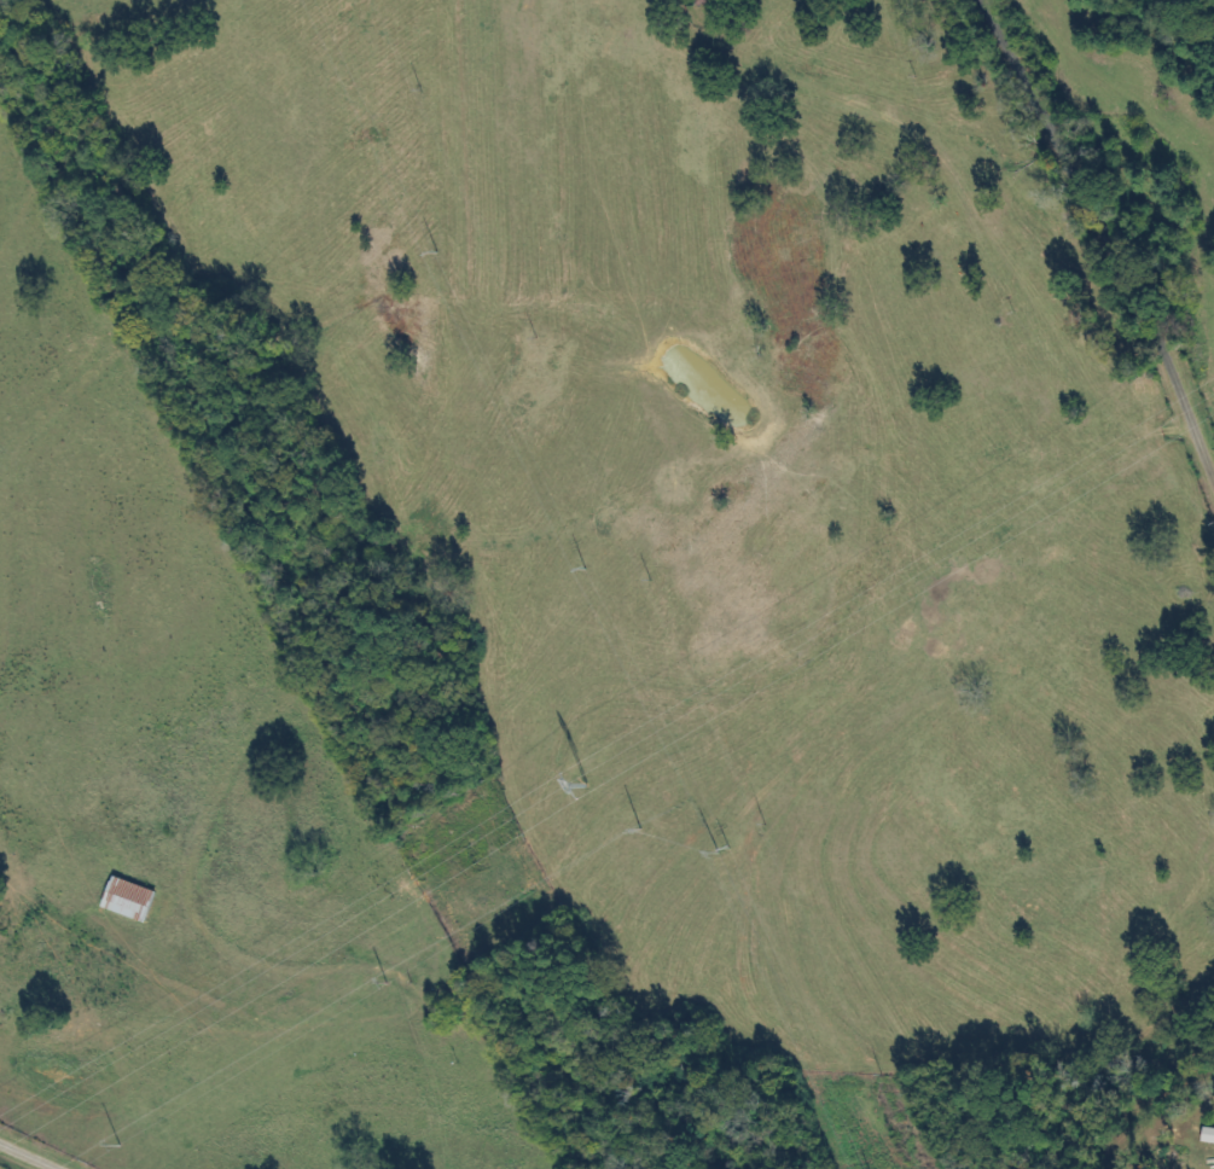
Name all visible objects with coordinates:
building: (707, 2)
road: (924, 204)
road: (1080, 234)
power tower: (434, 255)
power tower: (583, 571)
power tower: (585, 787)
power tower: (719, 850)
building: (129, 901)
road: (21, 1159)

